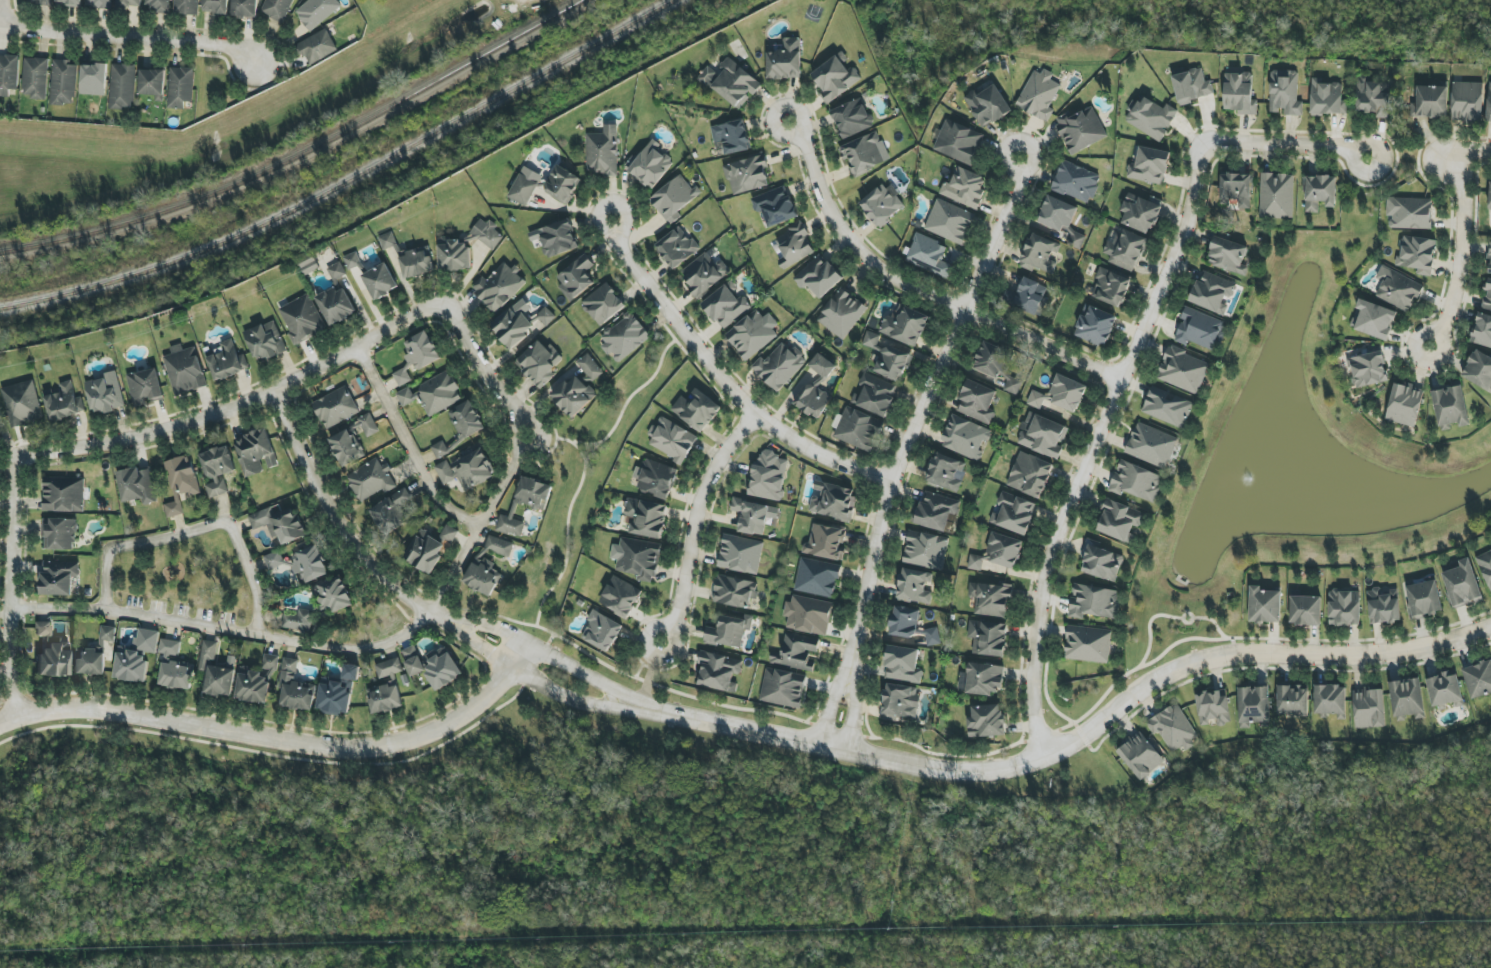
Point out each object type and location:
building: (40, 2)
building: (69, 3)
building: (128, 3)
building: (98, 4)
building: (158, 5)
building: (186, 7)
building: (216, 7)
building: (244, 8)
building: (277, 9)
building: (316, 12)
road: (2, 13)
road: (129, 37)
building: (317, 47)
building: (784, 60)
building: (8, 74)
building: (835, 77)
building: (35, 78)
building: (93, 79)
building: (731, 82)
building: (63, 83)
building: (152, 83)
building: (122, 86)
building: (1191, 86)
building: (180, 87)
building: (1284, 93)
building: (1239, 94)
building: (1038, 95)
building: (1373, 97)
building: (1327, 98)
building: (1430, 102)
building: (1466, 102)
building: (1488, 103)
building: (987, 105)
road: (796, 106)
building: (1152, 118)
building: (851, 119)
building: (1081, 130)
building: (732, 136)
building: (959, 142)
road: (1289, 145)
road: (1473, 150)
building: (602, 152)
railway: (303, 154)
building: (862, 154)
road: (1004, 154)
road: (1450, 158)
building: (651, 165)
building: (1149, 166)
building: (747, 175)
railway: (344, 177)
building: (1076, 182)
building: (561, 184)
building: (525, 186)
building: (965, 188)
building: (1236, 189)
building: (1319, 192)
building: (1276, 196)
building: (674, 198)
building: (1489, 198)
building: (882, 204)
building: (774, 206)
building: (1140, 212)
building: (1409, 213)
building: (1057, 214)
road: (597, 215)
building: (949, 222)
building: (486, 234)
building: (555, 238)
building: (1076, 240)
building: (794, 243)
building: (676, 247)
building: (1125, 248)
building: (1417, 254)
building: (928, 255)
building: (1040, 255)
building: (454, 256)
building: (1229, 256)
road: (1459, 256)
building: (1489, 261)
building: (353, 262)
building: (309, 266)
building: (703, 274)
building: (818, 276)
building: (576, 277)
building: (379, 281)
building: (497, 287)
building: (1110, 287)
building: (1397, 289)
road: (922, 292)
building: (1211, 292)
building: (1487, 297)
building: (336, 298)
building: (603, 304)
building: (726, 305)
building: (842, 313)
building: (545, 316)
building: (301, 319)
building: (1374, 320)
building: (514, 323)
building: (905, 326)
building: (1095, 326)
building: (1199, 329)
building: (1482, 331)
building: (752, 334)
building: (624, 337)
building: (265, 341)
building: (420, 351)
building: (889, 358)
building: (226, 361)
building: (539, 363)
building: (997, 365)
building: (779, 366)
building: (1367, 369)
building: (1182, 370)
building: (1478, 370)
building: (185, 371)
road: (487, 371)
building: (401, 377)
road: (726, 385)
building: (145, 387)
building: (579, 388)
building: (814, 388)
building: (438, 393)
building: (1067, 393)
building: (104, 394)
building: (874, 395)
building: (405, 396)
building: (1036, 399)
road: (922, 401)
building: (977, 402)
building: (64, 403)
building: (22, 404)
building: (1404, 404)
building: (1167, 407)
building: (335, 408)
building: (1450, 408)
building: (696, 410)
building: (466, 420)
building: (368, 425)
building: (857, 429)
building: (1044, 437)
building: (965, 438)
building: (671, 440)
road: (1091, 443)
road: (407, 444)
building: (1150, 445)
road: (114, 446)
building: (347, 448)
building: (439, 450)
building: (255, 452)
building: (467, 468)
building: (217, 470)
building: (946, 472)
building: (1030, 475)
building: (769, 476)
fountain: (1252, 477)
building: (655, 478)
building: (371, 480)
building: (1135, 482)
building: (181, 483)
building: (136, 486)
building: (63, 494)
building: (832, 501)
building: (525, 504)
building: (936, 511)
building: (392, 513)
building: (1013, 513)
building: (753, 516)
building: (645, 518)
building: (1118, 520)
building: (279, 522)
road: (694, 522)
road: (338, 524)
road: (194, 530)
building: (59, 534)
building: (448, 534)
building: (826, 542)
building: (498, 546)
building: (925, 550)
building: (1004, 551)
building: (425, 552)
building: (740, 554)
building: (637, 558)
building: (975, 562)
building: (1100, 562)
building: (300, 564)
building: (1485, 567)
building: (483, 576)
building: (59, 578)
building: (817, 578)
building: (1462, 584)
building: (914, 587)
building: (734, 591)
building: (334, 594)
building: (620, 597)
building: (990, 599)
building: (1423, 599)
building: (1093, 602)
building: (1264, 605)
building: (1383, 606)
building: (1344, 608)
building: (1304, 609)
building: (808, 615)
building: (296, 620)
building: (904, 622)
building: (601, 631)
building: (729, 631)
building: (107, 633)
building: (932, 637)
building: (988, 638)
building: (1087, 644)
building: (169, 647)
road: (325, 648)
building: (795, 652)
building: (51, 653)
building: (207, 654)
building: (136, 656)
building: (413, 661)
building: (88, 662)
building: (270, 662)
road: (567, 665)
building: (902, 665)
building: (441, 668)
building: (720, 672)
building: (176, 675)
building: (984, 679)
building: (1478, 679)
building: (220, 681)
building: (252, 686)
building: (295, 688)
building: (387, 688)
building: (782, 688)
building: (1444, 690)
building: (338, 692)
road: (557, 692)
road: (832, 693)
road: (851, 697)
building: (1292, 699)
building: (1407, 699)
building: (1330, 700)
building: (899, 703)
building: (1253, 706)
building: (1213, 707)
building: (1369, 708)
building: (986, 721)
road: (1090, 724)
building: (1172, 728)
road: (279, 736)
building: (1140, 756)

